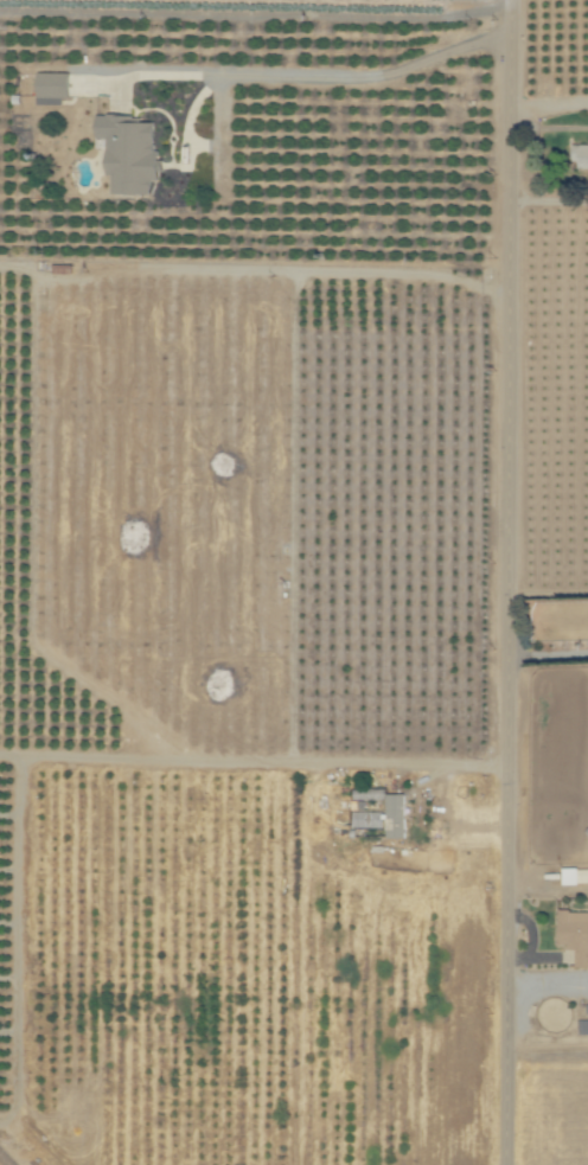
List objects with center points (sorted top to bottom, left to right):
road: (366, 77)
building: (49, 89)
road: (549, 108)
building: (126, 153)
building: (580, 156)
crop: (294, 582)
road: (507, 582)
road: (548, 655)
building: (363, 794)
building: (383, 818)
building: (574, 876)
crop: (487, 888)
building: (573, 934)
crop: (32, 1005)
railway: (1, 1163)

